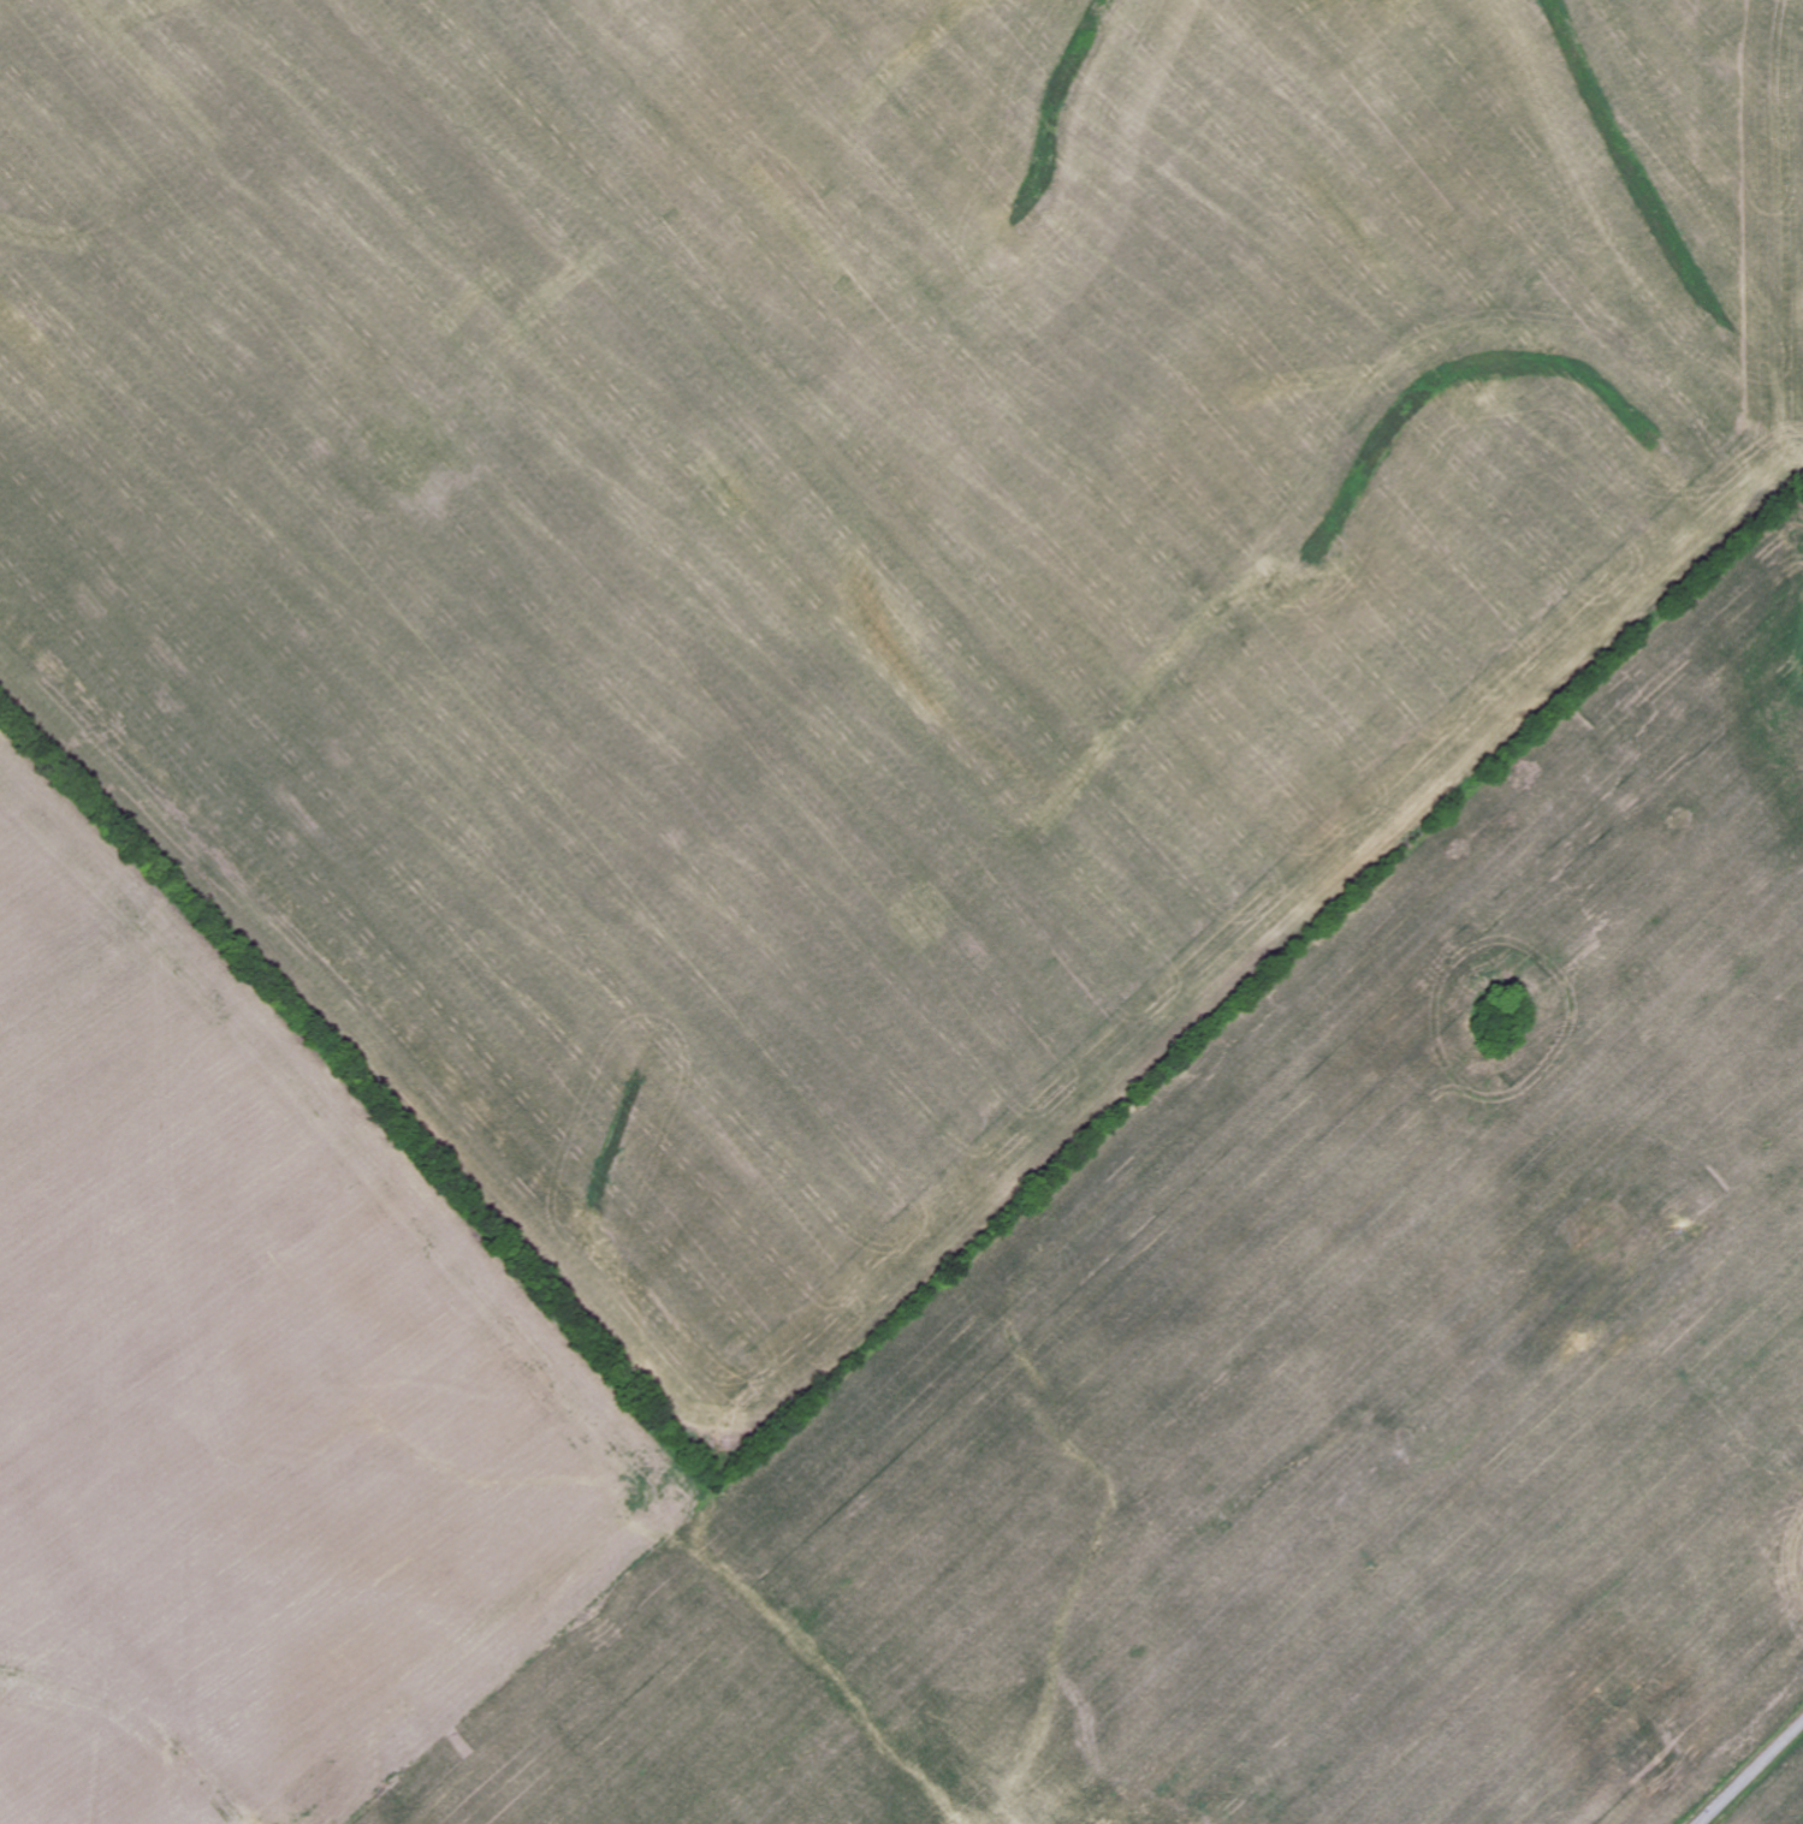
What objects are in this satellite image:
road: (1750, 1774)

